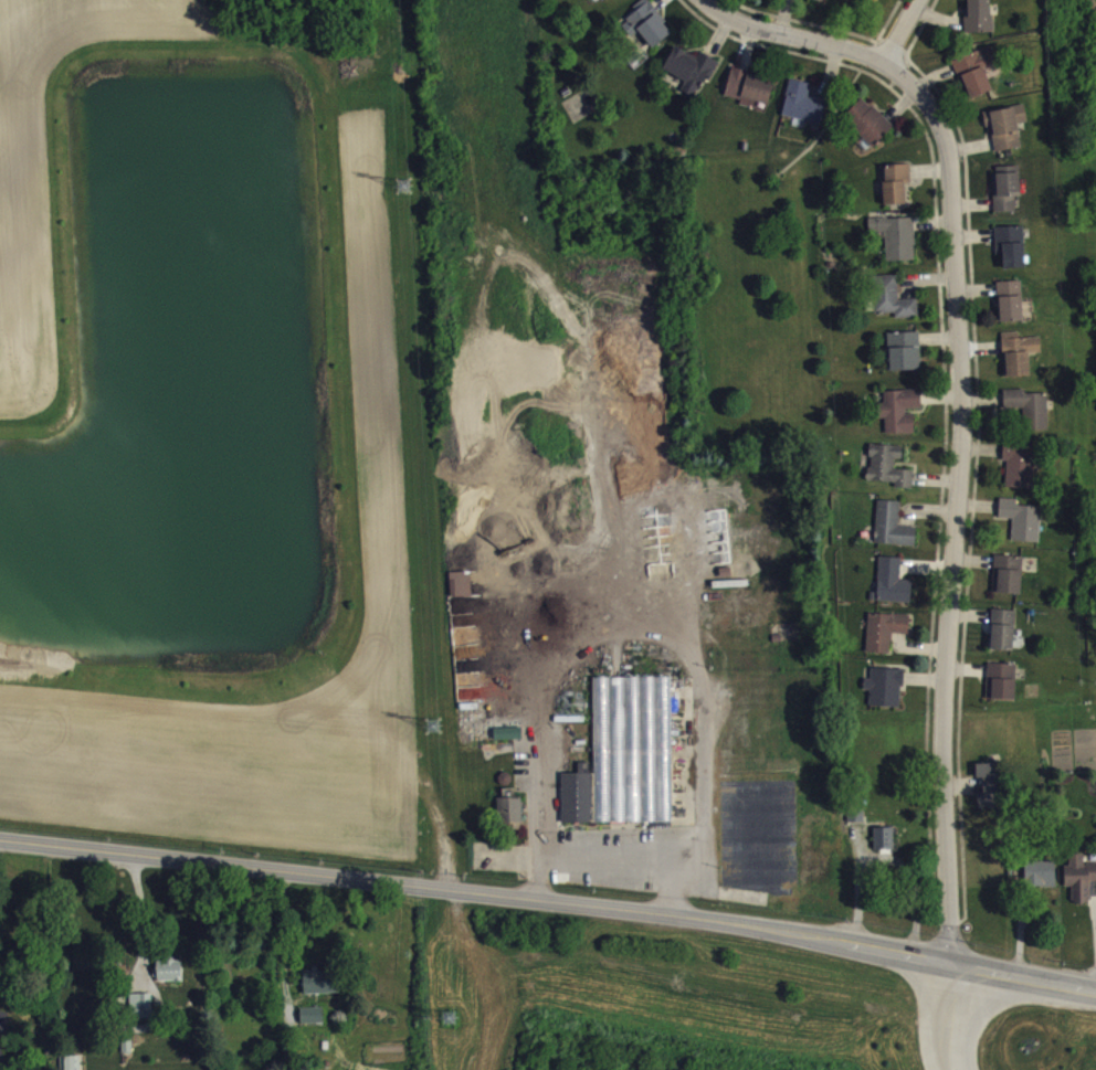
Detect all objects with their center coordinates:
building: (874, 1)
building: (609, 2)
building: (818, 3)
building: (980, 20)
building: (647, 31)
road: (907, 32)
road: (800, 39)
building: (692, 75)
building: (977, 77)
building: (750, 94)
building: (804, 109)
building: (870, 128)
building: (1007, 133)
power tower: (401, 190)
building: (896, 190)
building: (1008, 194)
crop: (25, 240)
building: (897, 243)
building: (1012, 253)
building: (895, 305)
building: (1012, 308)
building: (906, 358)
building: (1020, 360)
building: (1030, 415)
building: (902, 417)
building: (889, 473)
building: (1021, 473)
road: (953, 502)
crop: (380, 520)
building: (1023, 527)
building: (894, 532)
building: (1009, 581)
building: (894, 589)
building: (462, 591)
building: (1004, 636)
building: (886, 637)
building: (1003, 688)
building: (886, 693)
power tower: (431, 725)
building: (628, 762)
building: (991, 792)
building: (510, 818)
building: (885, 845)
road: (613, 850)
building: (1036, 881)
building: (1082, 886)
road: (549, 901)
road: (139, 917)
building: (170, 977)
building: (323, 988)
building: (143, 1013)
power tower: (449, 1017)
road: (951, 1017)
building: (313, 1021)
building: (72, 1066)

